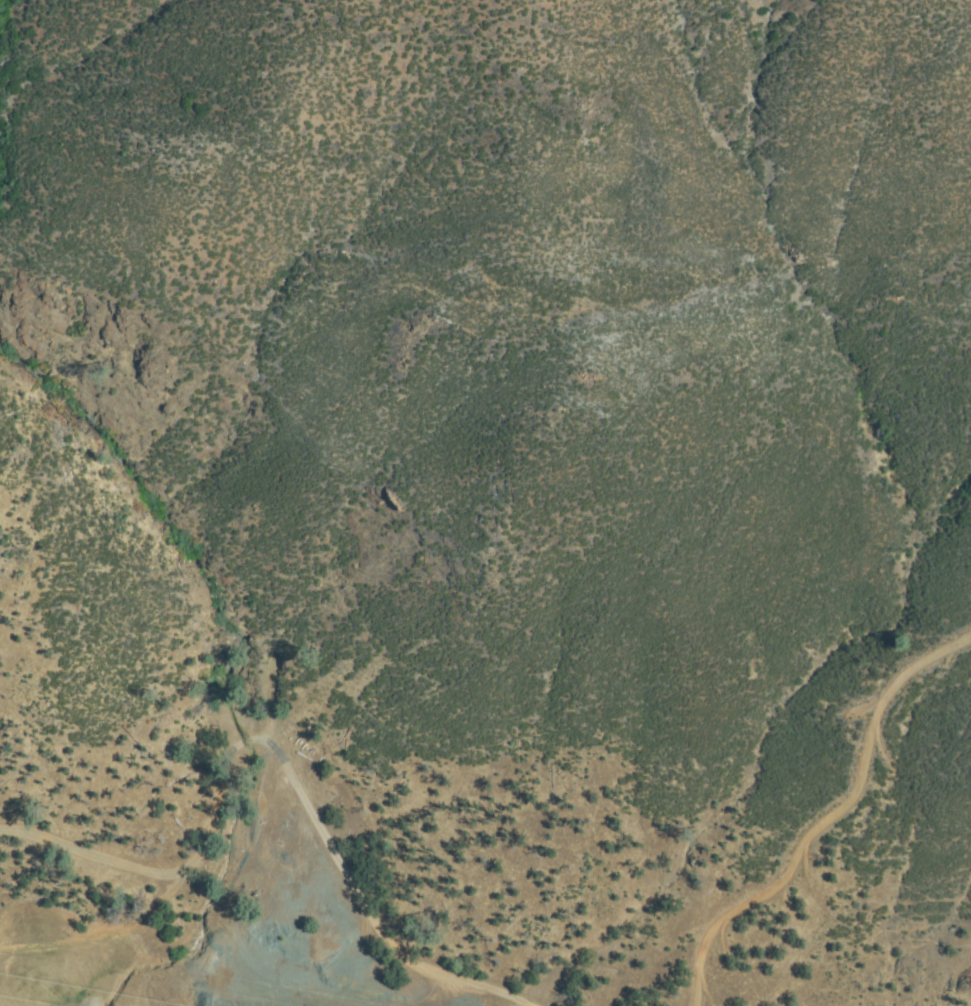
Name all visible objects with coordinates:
road: (286, 779)
road: (834, 820)

